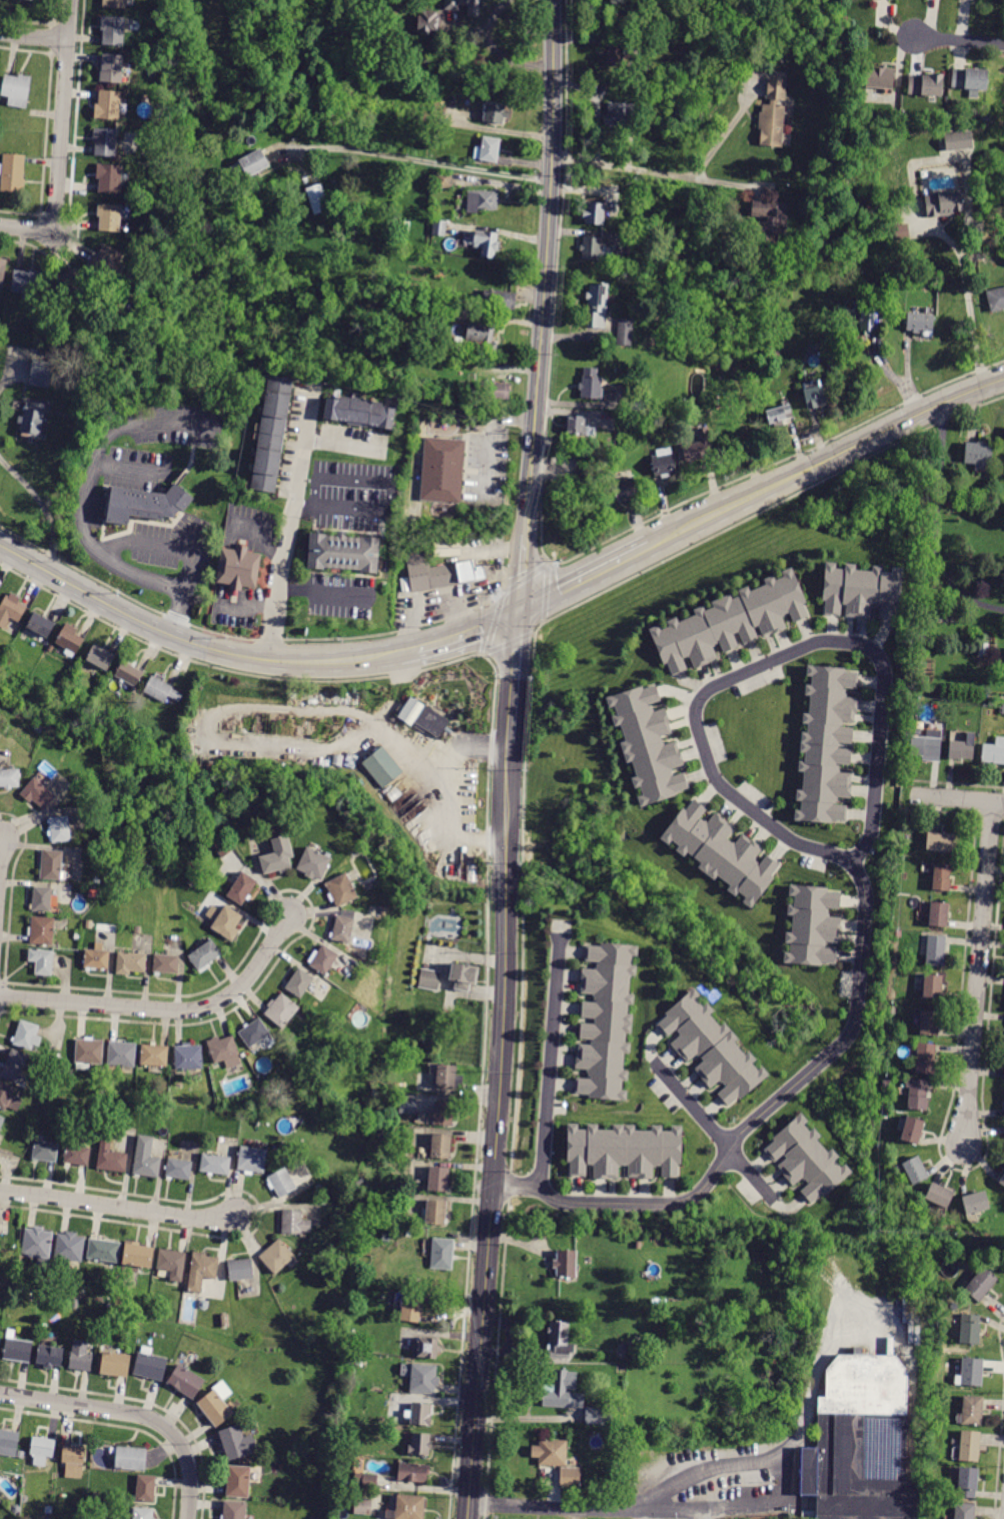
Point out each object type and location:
building: (615, 0)
building: (970, 0)
building: (115, 4)
building: (451, 7)
building: (158, 12)
building: (427, 23)
building: (112, 30)
road: (33, 37)
road: (960, 41)
road: (498, 50)
building: (615, 55)
building: (836, 57)
building: (111, 69)
building: (678, 72)
building: (971, 77)
building: (879, 78)
building: (925, 85)
building: (16, 90)
building: (108, 105)
building: (495, 112)
building: (773, 115)
building: (620, 116)
building: (985, 117)
building: (154, 123)
road: (729, 128)
building: (958, 140)
road: (60, 142)
building: (105, 142)
building: (487, 149)
road: (424, 161)
building: (251, 163)
road: (660, 172)
building: (13, 173)
building: (109, 178)
building: (444, 179)
building: (334, 182)
building: (373, 184)
road: (965, 192)
building: (317, 199)
building: (482, 201)
building: (944, 204)
building: (436, 211)
building: (594, 213)
building: (771, 216)
building: (109, 217)
building: (404, 226)
building: (439, 227)
building: (900, 231)
building: (484, 242)
building: (591, 248)
building: (105, 260)
road: (547, 268)
building: (2, 269)
building: (439, 273)
building: (27, 284)
building: (72, 284)
building: (498, 299)
building: (996, 299)
building: (396, 303)
building: (597, 305)
building: (449, 313)
building: (868, 322)
building: (920, 323)
building: (624, 332)
building: (479, 337)
building: (135, 339)
building: (776, 351)
building: (774, 367)
building: (40, 373)
building: (591, 384)
building: (494, 389)
building: (814, 397)
building: (638, 401)
building: (360, 412)
building: (779, 413)
building: (32, 418)
road: (136, 419)
building: (576, 425)
building: (272, 434)
building: (1003, 444)
building: (698, 448)
building: (749, 455)
building: (979, 455)
road: (776, 461)
road: (824, 461)
building: (663, 462)
building: (442, 470)
road: (389, 483)
building: (625, 488)
building: (146, 504)
road: (42, 506)
road: (304, 506)
road: (294, 512)
road: (937, 526)
road: (163, 543)
building: (446, 546)
road: (91, 547)
building: (344, 552)
building: (239, 568)
road: (502, 568)
building: (476, 571)
road: (521, 573)
building: (429, 574)
road: (525, 577)
road: (583, 580)
building: (861, 590)
road: (320, 591)
road: (499, 593)
road: (545, 594)
building: (11, 609)
traffic signals: (520, 612)
road: (492, 623)
building: (730, 623)
building: (39, 626)
road: (238, 636)
road: (469, 636)
road: (535, 638)
building: (69, 640)
road: (510, 644)
road: (197, 645)
building: (51, 648)
building: (983, 649)
building: (99, 658)
road: (774, 660)
building: (129, 673)
road: (514, 675)
building: (163, 691)
building: (1002, 709)
building: (422, 716)
building: (38, 729)
building: (927, 743)
building: (648, 745)
building: (826, 745)
building: (961, 749)
building: (994, 751)
building: (383, 768)
building: (9, 777)
building: (38, 794)
road: (956, 798)
building: (60, 829)
road: (487, 830)
building: (940, 842)
building: (222, 847)
building: (721, 852)
road: (1, 853)
building: (373, 854)
building: (278, 856)
building: (314, 864)
building: (51, 865)
building: (941, 878)
building: (242, 888)
building: (341, 890)
building: (93, 893)
building: (42, 899)
building: (212, 911)
building: (939, 914)
building: (227, 922)
building: (812, 925)
building: (138, 929)
building: (342, 929)
building: (42, 930)
building: (935, 950)
building: (204, 956)
building: (97, 958)
building: (323, 959)
building: (42, 961)
building: (130, 963)
building: (165, 964)
road: (978, 974)
building: (463, 976)
building: (430, 979)
building: (299, 983)
building: (933, 986)
road: (165, 1010)
building: (281, 1010)
building: (892, 1010)
building: (606, 1021)
building: (930, 1023)
building: (254, 1032)
building: (26, 1035)
building: (711, 1048)
building: (222, 1049)
building: (88, 1053)
building: (122, 1054)
building: (154, 1057)
building: (188, 1057)
building: (926, 1059)
building: (59, 1062)
road: (552, 1064)
building: (15, 1067)
building: (65, 1071)
building: (448, 1077)
building: (887, 1083)
building: (46, 1092)
building: (917, 1093)
building: (8, 1098)
building: (408, 1104)
building: (443, 1113)
road: (762, 1120)
building: (1, 1121)
road: (498, 1129)
building: (913, 1130)
road: (721, 1135)
building: (440, 1146)
building: (45, 1149)
building: (623, 1151)
building: (76, 1153)
building: (111, 1159)
building: (806, 1159)
building: (252, 1160)
building: (215, 1164)
building: (146, 1166)
building: (179, 1169)
building: (915, 1170)
building: (439, 1179)
building: (1002, 1181)
building: (281, 1182)
road: (507, 1183)
building: (319, 1188)
building: (939, 1195)
building: (976, 1203)
road: (116, 1206)
building: (435, 1213)
building: (294, 1222)
building: (37, 1244)
building: (637, 1245)
building: (70, 1247)
building: (103, 1250)
building: (442, 1253)
building: (138, 1256)
building: (277, 1256)
building: (566, 1264)
building: (171, 1265)
building: (201, 1269)
building: (241, 1269)
building: (981, 1284)
building: (410, 1307)
building: (694, 1319)
building: (225, 1321)
building: (970, 1329)
building: (559, 1340)
building: (427, 1348)
building: (18, 1350)
building: (624, 1351)
building: (49, 1356)
building: (80, 1356)
road: (494, 1358)
building: (116, 1364)
building: (149, 1365)
building: (972, 1372)
building: (421, 1377)
road: (808, 1377)
building: (186, 1381)
building: (563, 1391)
building: (216, 1408)
building: (972, 1410)
road: (134, 1412)
building: (421, 1414)
building: (599, 1416)
building: (237, 1442)
building: (860, 1442)
building: (9, 1443)
building: (318, 1443)
building: (420, 1444)
building: (969, 1446)
building: (42, 1450)
building: (550, 1452)
building: (21, 1454)
building: (130, 1458)
building: (317, 1458)
building: (73, 1461)
building: (631, 1465)
building: (413, 1472)
building: (569, 1477)
building: (366, 1481)
building: (239, 1482)
building: (967, 1483)
building: (146, 1488)
building: (95, 1496)
road: (728, 1503)
building: (363, 1506)
building: (410, 1507)
building: (49, 1510)
building: (235, 1510)
building: (964, 1510)
building: (143, 1513)
building: (80, 1516)
building: (314, 1518)

